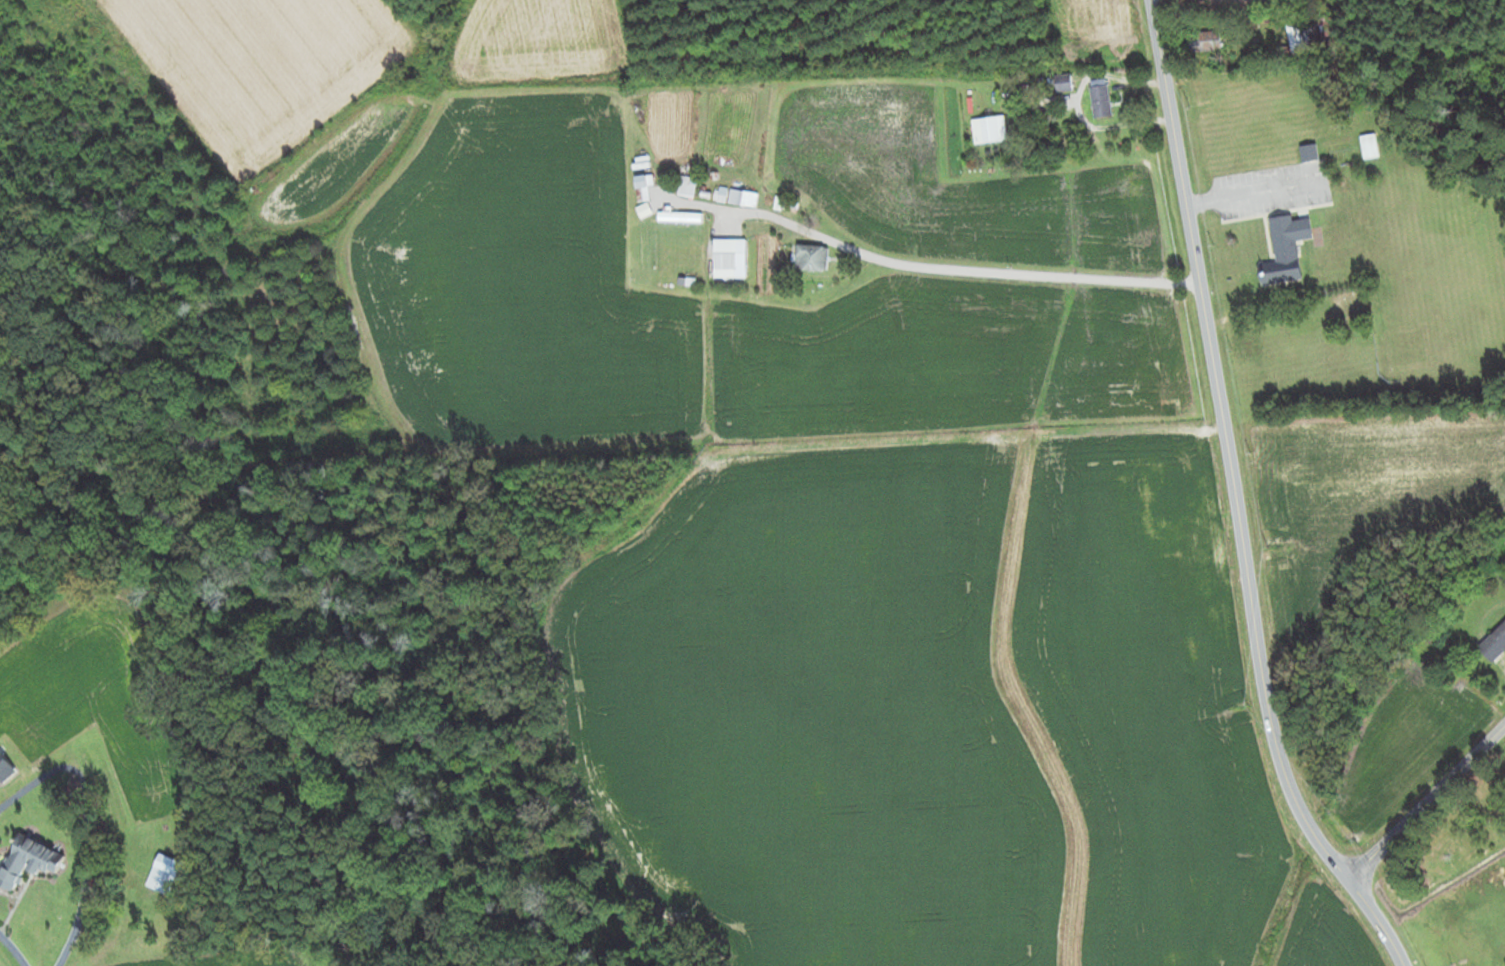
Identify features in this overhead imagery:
building: (1305, 34)
building: (1205, 42)
building: (1064, 84)
building: (1101, 102)
building: (994, 130)
building: (1369, 147)
building: (1309, 153)
building: (687, 186)
building: (643, 188)
building: (743, 198)
building: (680, 216)
building: (1286, 250)
building: (730, 258)
building: (812, 258)
road: (910, 262)
road: (1228, 449)
building: (1495, 644)
road: (1426, 805)
building: (29, 860)
building: (161, 880)
road: (63, 898)
road: (1376, 923)
road: (29, 965)

